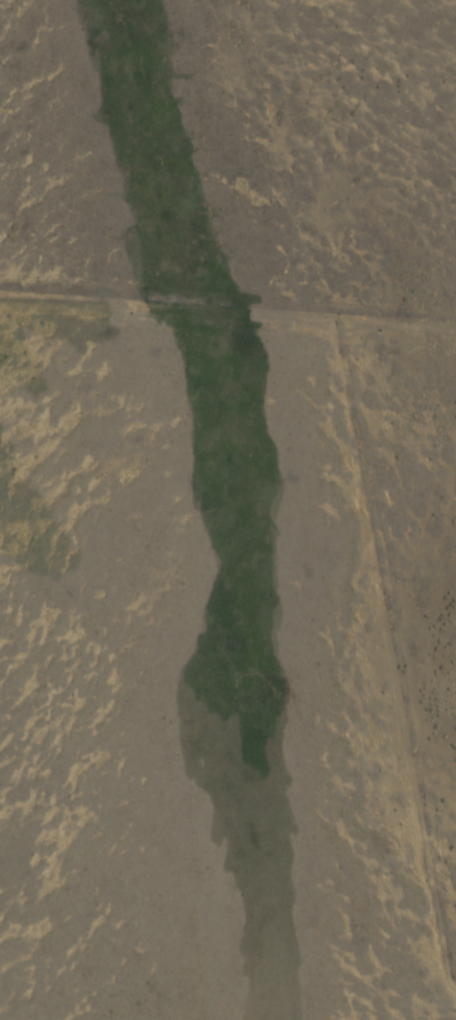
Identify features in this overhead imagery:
road: (227, 369)

